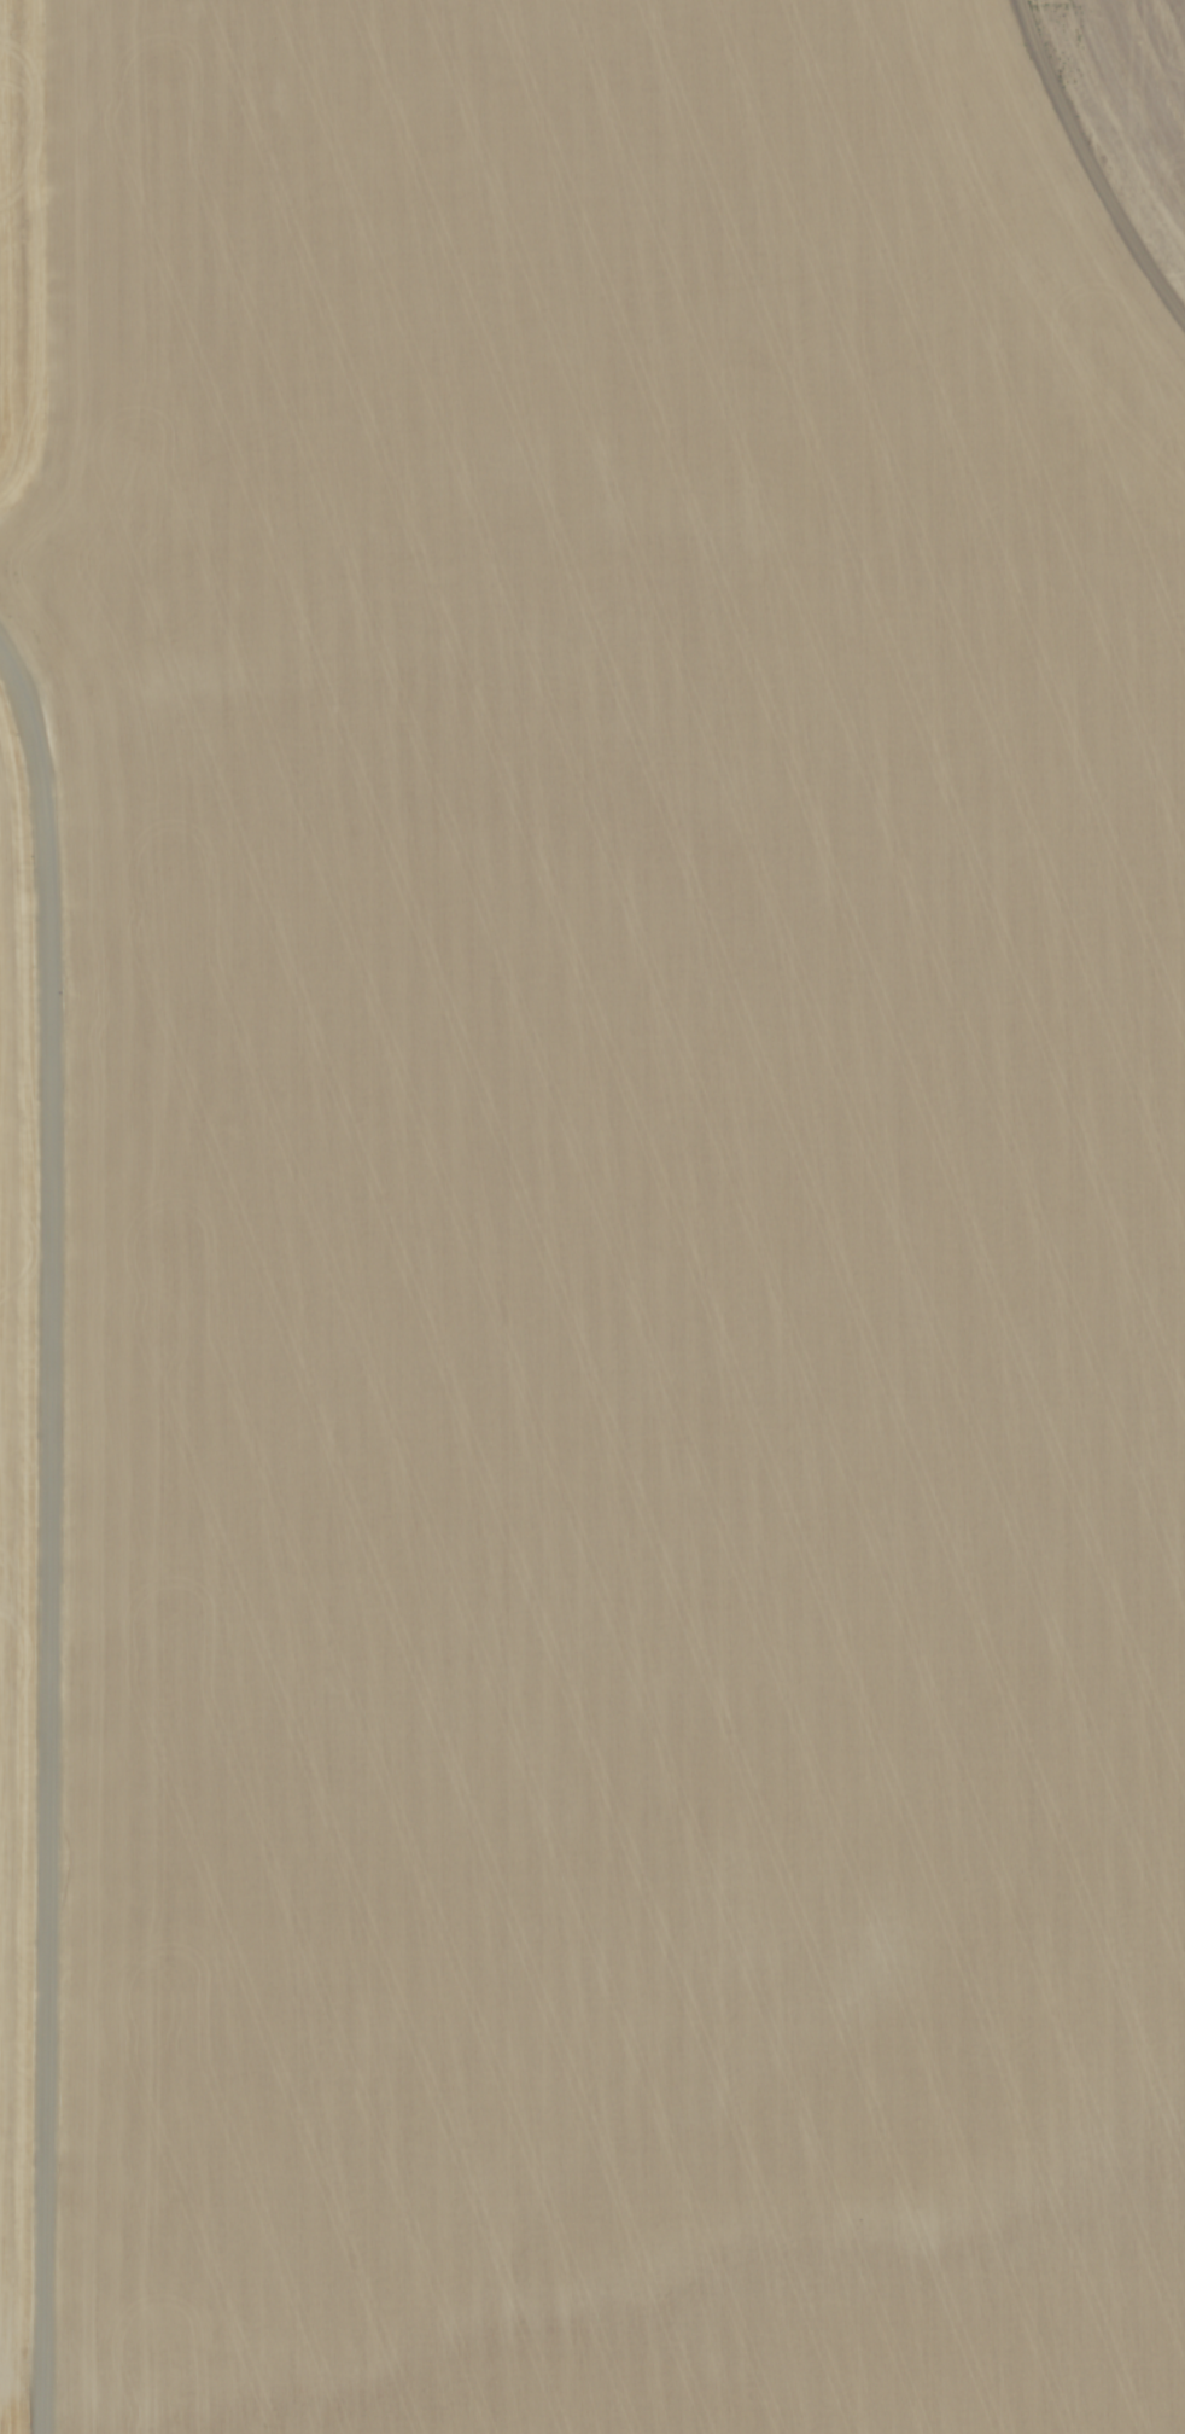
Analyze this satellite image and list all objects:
road: (48, 1535)

